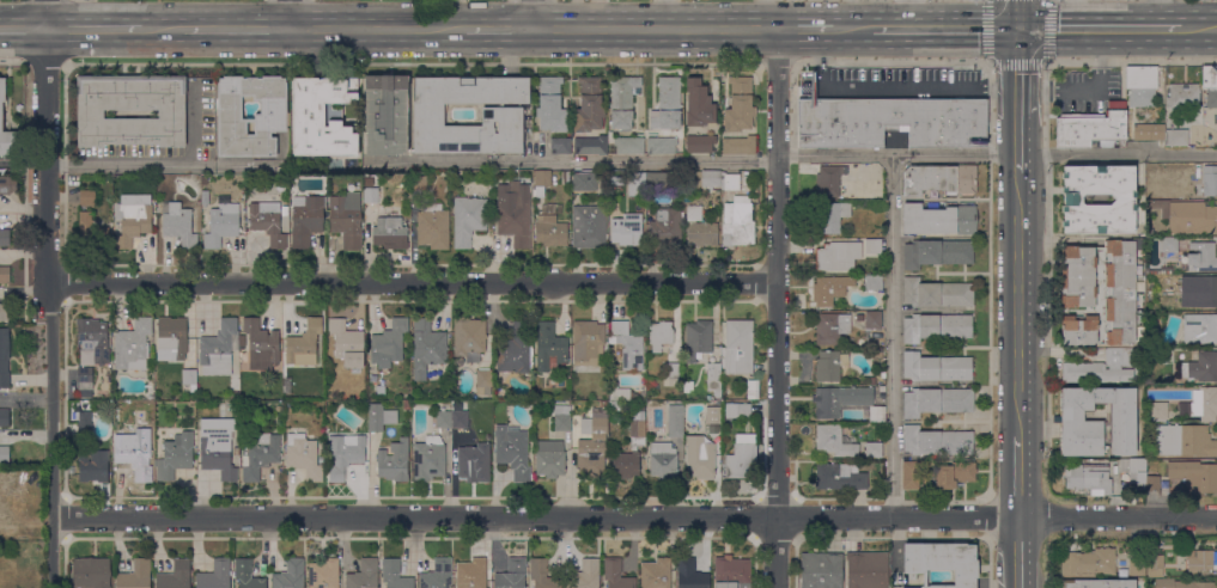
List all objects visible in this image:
road: (1018, 13)
road: (286, 14)
road: (907, 14)
road: (1155, 14)
road: (535, 16)
traffic signals: (1018, 27)
road: (1099, 27)
road: (235, 29)
road: (945, 29)
road: (1198, 29)
road: (22, 30)
road: (92, 30)
road: (162, 30)
road: (375, 30)
road: (804, 30)
road: (852, 30)
road: (499, 31)
road: (656, 31)
road: (1016, 62)
building: (1140, 85)
building: (1210, 86)
road: (960, 90)
building: (1182, 96)
building: (621, 100)
road: (1017, 100)
building: (667, 104)
building: (550, 105)
building: (589, 105)
building: (699, 105)
building: (738, 105)
building: (90, 114)
building: (333, 114)
building: (385, 115)
building: (269, 116)
building: (503, 116)
building: (321, 117)
building: (892, 122)
building: (1090, 130)
building: (7, 131)
building: (1149, 133)
building: (1175, 137)
building: (700, 143)
building: (628, 145)
building: (560, 146)
building: (590, 146)
building: (738, 146)
building: (663, 147)
road: (997, 157)
road: (412, 163)
building: (282, 171)
building: (565, 177)
building: (710, 179)
building: (840, 179)
building: (939, 179)
building: (1211, 179)
building: (615, 180)
building: (584, 182)
building: (656, 182)
building: (729, 182)
building: (418, 183)
building: (541, 183)
building: (637, 184)
building: (7, 185)
building: (371, 195)
building: (86, 197)
building: (205, 198)
building: (1122, 201)
building: (284, 210)
building: (513, 213)
building: (832, 216)
building: (1187, 216)
building: (346, 219)
building: (286, 220)
building: (305, 220)
building: (468, 220)
building: (939, 220)
building: (267, 221)
building: (132, 222)
building: (737, 222)
building: (177, 223)
building: (221, 225)
building: (433, 226)
building: (588, 227)
building: (664, 227)
building: (699, 228)
building: (626, 229)
building: (549, 231)
building: (91, 232)
building: (389, 233)
building: (4, 238)
building: (1169, 244)
building: (845, 253)
building: (936, 253)
building: (1199, 258)
building: (1161, 270)
building: (5, 275)
building: (1078, 277)
road: (410, 283)
building: (872, 283)
building: (829, 289)
building: (1207, 292)
building: (937, 293)
building: (1119, 293)
road: (47, 294)
road: (1017, 307)
road: (777, 308)
building: (5, 312)
building: (859, 318)
building: (872, 320)
building: (936, 327)
building: (832, 329)
building: (1199, 329)
building: (1078, 330)
building: (659, 335)
road: (894, 336)
building: (468, 338)
building: (698, 338)
building: (171, 339)
building: (347, 342)
building: (586, 342)
building: (389, 343)
building: (303, 344)
building: (133, 345)
building: (261, 345)
building: (549, 345)
building: (627, 345)
building: (90, 348)
building: (219, 348)
building: (426, 348)
building: (737, 348)
building: (516, 349)
building: (876, 353)
building: (4, 359)
building: (829, 366)
building: (936, 367)
building: (1200, 367)
building: (1100, 368)
building: (673, 370)
building: (713, 370)
building: (189, 379)
building: (871, 380)
building: (482, 382)
building: (286, 386)
building: (379, 390)
building: (752, 390)
building: (233, 394)
building: (635, 394)
building: (611, 396)
building: (839, 400)
building: (936, 402)
building: (602, 404)
building: (407, 405)
building: (614, 405)
building: (1189, 405)
building: (742, 411)
building: (876, 414)
building: (241, 415)
building: (4, 417)
building: (381, 417)
building: (458, 418)
building: (561, 418)
building: (443, 419)
building: (675, 421)
building: (1096, 422)
building: (712, 423)
building: (881, 425)
building: (84, 430)
building: (148, 434)
building: (637, 441)
building: (834, 441)
building: (1183, 441)
building: (936, 442)
building: (592, 446)
building: (217, 447)
building: (872, 449)
building: (512, 452)
building: (4, 454)
building: (343, 454)
building: (132, 455)
building: (258, 455)
building: (175, 457)
building: (303, 457)
building: (236, 459)
building: (428, 459)
building: (549, 459)
building: (742, 459)
building: (663, 460)
building: (394, 461)
building: (475, 461)
building: (701, 463)
building: (92, 465)
building: (1133, 470)
building: (909, 474)
building: (954, 474)
building: (1194, 476)
building: (839, 477)
road: (1018, 479)
building: (1088, 479)
building: (1151, 484)
road: (634, 516)
road: (1018, 553)
building: (1198, 561)
building: (942, 562)
building: (1091, 563)
building: (1155, 566)
building: (1136, 568)
building: (821, 570)
building: (866, 570)
building: (91, 572)
building: (731, 572)
building: (324, 574)
building: (471, 574)
building: (616, 574)
building: (656, 574)
building: (135, 575)
building: (175, 575)
building: (214, 575)
building: (247, 575)
building: (290, 575)
building: (364, 575)
building: (395, 575)
building: (437, 575)
building: (511, 575)
building: (542, 575)
building: (585, 575)
building: (690, 575)
building: (1149, 582)
building: (1097, 583)
building: (1181, 583)

